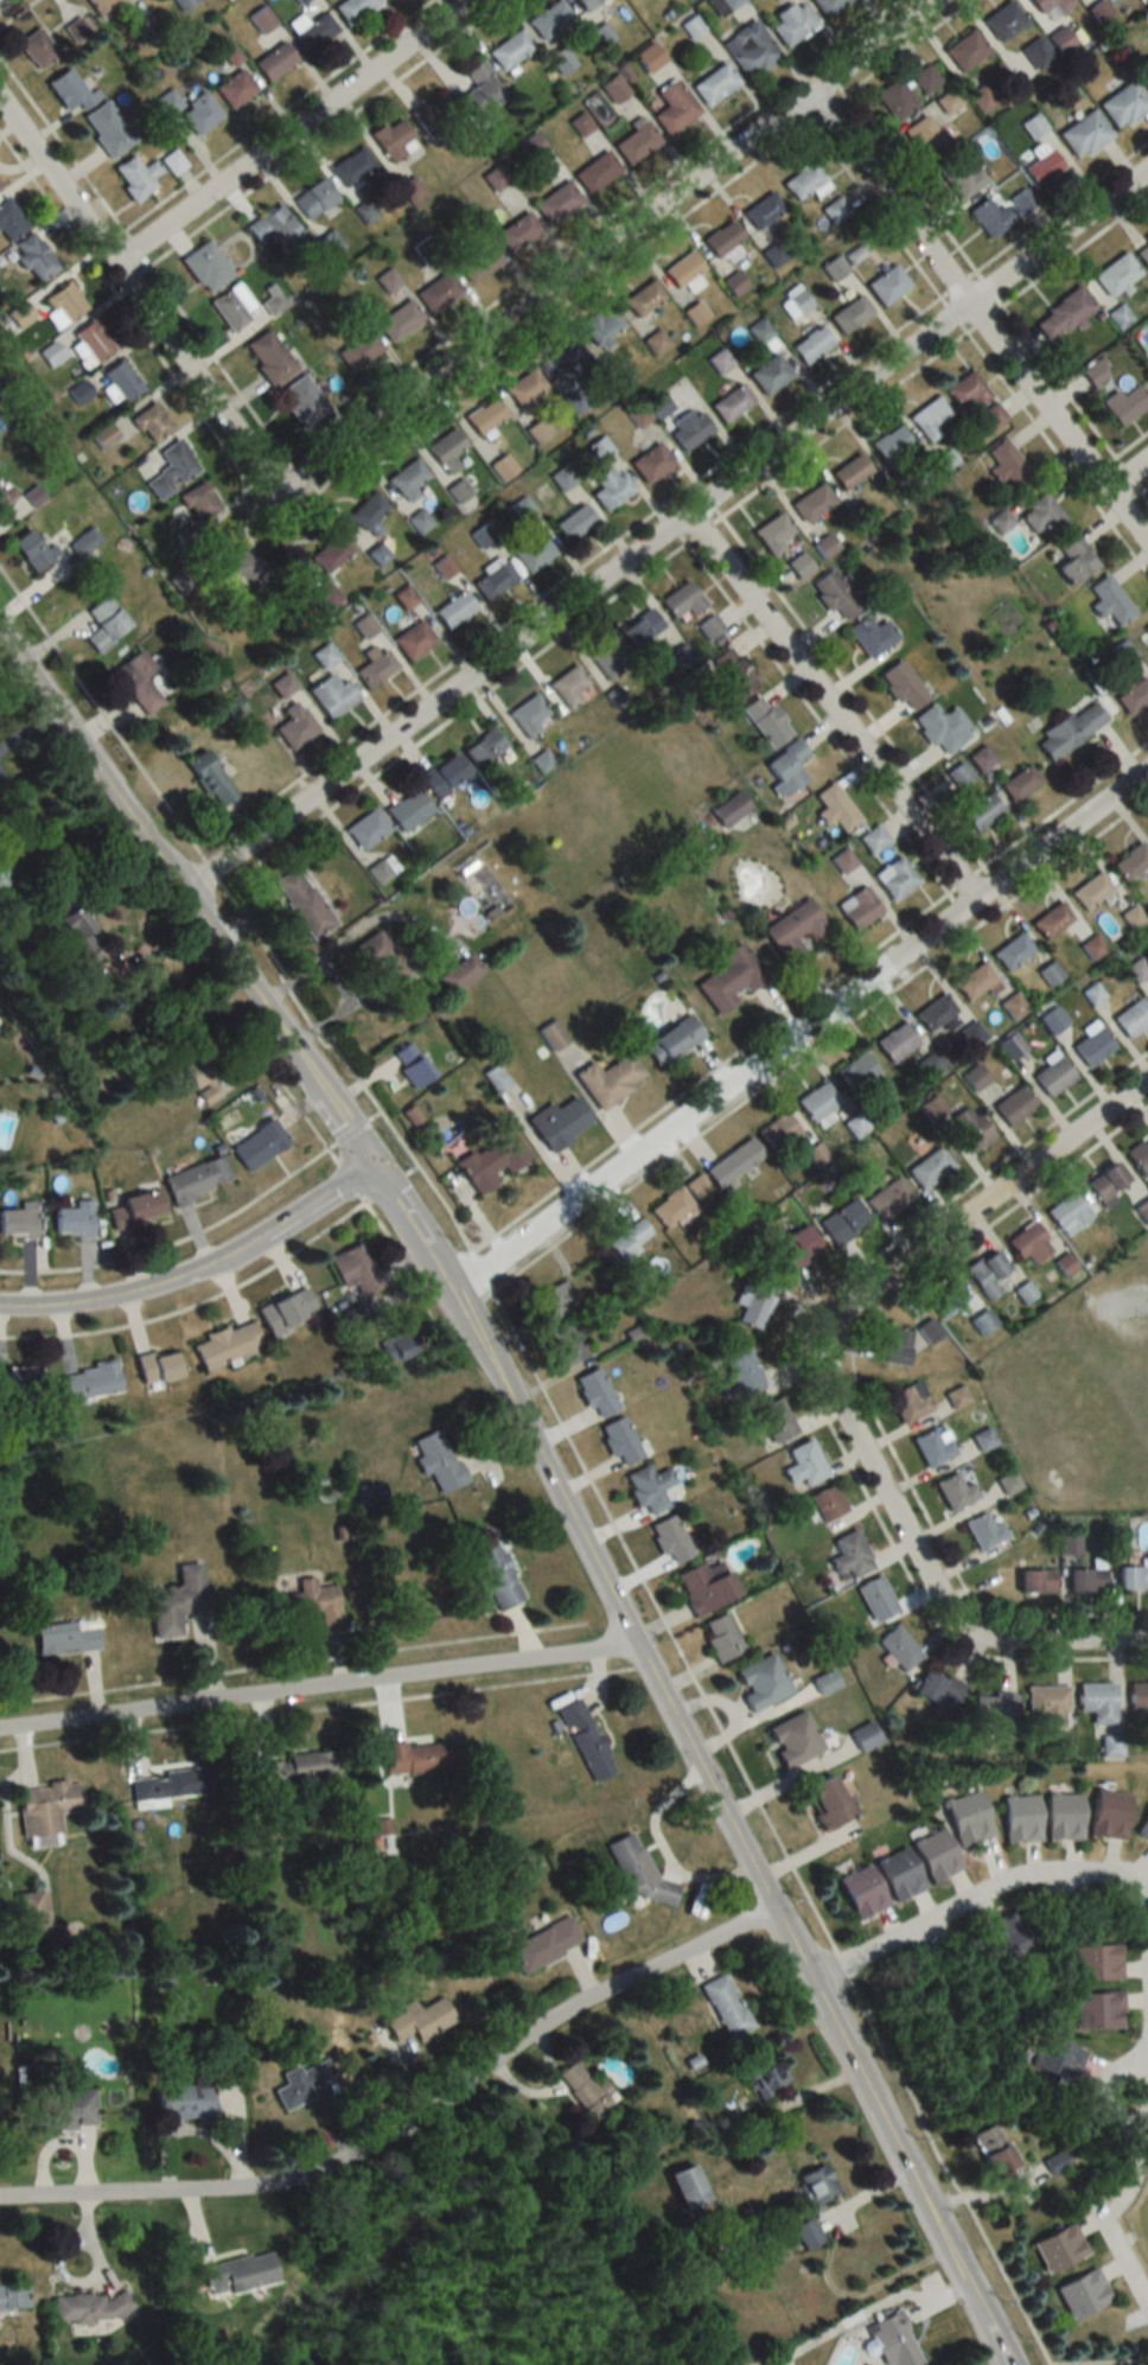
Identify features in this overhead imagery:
road: (0, 0)
building: (300, 0)
building: (585, 2)
building: (731, 2)
building: (100, 4)
building: (184, 4)
building: (1050, 4)
building: (829, 6)
building: (353, 8)
building: (549, 18)
building: (261, 19)
building: (1003, 20)
building: (791, 24)
building: (312, 31)
building: (601, 33)
building: (1060, 39)
building: (37, 47)
building: (509, 49)
building: (750, 49)
building: (964, 49)
building: (1037, 52)
building: (649, 57)
building: (561, 59)
building: (273, 60)
building: (1143, 75)
building: (925, 77)
building: (714, 84)
building: (234, 88)
building: (613, 88)
building: (71, 89)
building: (480, 93)
building: (981, 97)
building: (894, 98)
building: (948, 101)
building: (1123, 104)
building: (674, 107)
building: (199, 113)
building: (433, 114)
building: (1033, 125)
building: (107, 128)
road: (295, 132)
building: (1083, 134)
building: (921, 135)
building: (393, 138)
building: (634, 142)
building: (172, 161)
building: (1040, 162)
building: (351, 166)
building: (595, 171)
building: (135, 177)
building: (802, 180)
building: (963, 180)
building: (410, 189)
building: (313, 197)
building: (557, 202)
building: (761, 210)
building: (834, 210)
building: (990, 217)
building: (8, 221)
building: (270, 227)
building: (517, 232)
building: (721, 238)
road: (605, 244)
building: (773, 253)
building: (1143, 253)
building: (33, 256)
building: (478, 261)
building: (205, 266)
building: (834, 267)
building: (682, 269)
building: (1115, 275)
building: (887, 283)
road: (138, 291)
building: (438, 291)
building: (642, 298)
building: (797, 298)
building: (64, 301)
building: (229, 310)
road: (980, 311)
building: (694, 313)
building: (849, 313)
building: (1063, 313)
building: (398, 319)
building: (601, 326)
building: (655, 342)
building: (90, 343)
building: (810, 344)
building: (358, 350)
building: (268, 356)
building: (561, 359)
building: (720, 361)
building: (1096, 371)
building: (768, 374)
building: (119, 381)
building: (967, 389)
building: (524, 391)
building: (301, 399)
building: (731, 402)
building: (1127, 406)
building: (484, 416)
building: (929, 416)
building: (151, 422)
building: (689, 428)
building: (537, 431)
building: (889, 442)
building: (446, 450)
building: (650, 463)
building: (503, 467)
building: (172, 468)
building: (849, 471)
road: (1129, 471)
building: (407, 479)
building: (611, 487)
building: (458, 491)
building: (2, 493)
building: (198, 502)
building: (811, 502)
building: (368, 512)
building: (1040, 515)
building: (574, 522)
road: (671, 533)
building: (772, 534)
building: (84, 541)
building: (824, 544)
building: (28, 548)
building: (532, 552)
building: (331, 553)
building: (1074, 559)
building: (799, 565)
building: (249, 568)
building: (492, 578)
building: (835, 592)
building: (326, 594)
building: (681, 599)
building: (1109, 600)
building: (453, 608)
building: (104, 623)
building: (1146, 625)
building: (709, 626)
building: (639, 627)
building: (870, 635)
building: (413, 639)
building: (1125, 654)
building: (324, 656)
building: (681, 656)
building: (608, 657)
building: (375, 668)
building: (733, 675)
building: (136, 681)
building: (901, 684)
building: (568, 687)
building: (332, 695)
building: (1133, 695)
building: (617, 696)
road: (831, 709)
building: (529, 714)
building: (765, 721)
building: (294, 725)
building: (940, 727)
building: (1069, 729)
building: (483, 747)
building: (981, 758)
building: (786, 766)
building: (441, 774)
building: (210, 778)
building: (1019, 783)
building: (408, 809)
building: (835, 809)
building: (729, 810)
building: (980, 811)
building: (0, 812)
building: (366, 829)
building: (873, 839)
road: (191, 841)
building: (843, 860)
building: (1130, 861)
building: (381, 871)
building: (895, 878)
building: (1090, 891)
building: (304, 903)
building: (859, 907)
building: (1051, 919)
building: (72, 923)
building: (797, 932)
building: (1092, 948)
building: (1012, 950)
building: (380, 952)
building: (1137, 970)
building: (1050, 973)
building: (460, 974)
building: (729, 978)
building: (977, 981)
building: (1093, 993)
building: (1013, 1005)
building: (935, 1011)
building: (1131, 1018)
building: (1053, 1019)
road: (803, 1027)
building: (971, 1034)
building: (672, 1040)
building: (895, 1041)
building: (1012, 1046)
building: (1092, 1046)
building: (932, 1063)
building: (410, 1066)
building: (856, 1071)
building: (203, 1073)
building: (975, 1076)
building: (1052, 1077)
building: (610, 1079)
building: (816, 1101)
building: (1013, 1105)
building: (559, 1123)
building: (970, 1128)
road: (351, 1129)
building: (777, 1131)
building: (259, 1145)
building: (1139, 1154)
building: (491, 1161)
building: (732, 1161)
traffic signals: (375, 1164)
building: (930, 1168)
building: (197, 1178)
building: (1105, 1185)
building: (696, 1186)
building: (888, 1199)
road: (983, 1203)
building: (671, 1206)
building: (134, 1207)
building: (1142, 1211)
building: (1069, 1213)
building: (71, 1220)
building: (843, 1222)
building: (17, 1224)
building: (626, 1241)
road: (174, 1243)
building: (1029, 1244)
building: (796, 1248)
building: (355, 1269)
road: (199, 1270)
building: (987, 1273)
building: (1026, 1292)
building: (948, 1299)
building: (753, 1300)
building: (554, 1301)
road: (194, 1303)
building: (286, 1311)
building: (983, 1320)
building: (930, 1330)
building: (225, 1344)
building: (566, 1345)
building: (895, 1346)
building: (157, 1366)
building: (742, 1366)
building: (90, 1381)
building: (23, 1382)
building: (595, 1392)
building: (957, 1396)
building: (908, 1403)
building: (776, 1421)
building: (983, 1439)
building: (620, 1441)
building: (933, 1446)
building: (438, 1461)
building: (805, 1465)
road: (551, 1470)
building: (1008, 1483)
building: (650, 1489)
building: (955, 1492)
building: (827, 1503)
building: (984, 1531)
building: (671, 1540)
building: (850, 1555)
road: (925, 1570)
building: (495, 1573)
building: (1131, 1577)
building: (1086, 1580)
building: (1035, 1581)
building: (706, 1586)
building: (876, 1598)
building: (177, 1601)
building: (306, 1602)
building: (722, 1637)
building: (65, 1639)
building: (898, 1647)
building: (761, 1681)
building: (824, 1681)
road: (320, 1683)
building: (937, 1691)
building: (1137, 1696)
building: (1097, 1702)
building: (1047, 1704)
building: (993, 1714)
building: (863, 1735)
building: (586, 1739)
building: (793, 1739)
building: (416, 1758)
building: (286, 1774)
building: (174, 1784)
building: (827, 1803)
building: (45, 1808)
building: (1106, 1813)
building: (1061, 1815)
building: (1019, 1817)
building: (967, 1818)
building: (1142, 1827)
building: (380, 1831)
building: (935, 1855)
building: (898, 1873)
building: (637, 1874)
road: (986, 1889)
building: (861, 1891)
building: (32, 1914)
building: (1008, 1937)
building: (543, 1944)
building: (1096, 1961)
building: (725, 2006)
building: (1097, 2009)
building: (417, 2019)
building: (1057, 2057)
road: (1140, 2071)
building: (765, 2078)
building: (301, 2082)
building: (581, 2089)
building: (184, 2103)
building: (65, 2109)
road: (409, 2117)
building: (990, 2147)
building: (1054, 2162)
building: (815, 2182)
building: (684, 2185)
road: (1012, 2192)
road: (1120, 2245)
building: (1058, 2248)
building: (231, 2272)
building: (1082, 2293)
building: (12, 2297)
building: (89, 2306)
park: (496, 2339)
building: (893, 2340)

